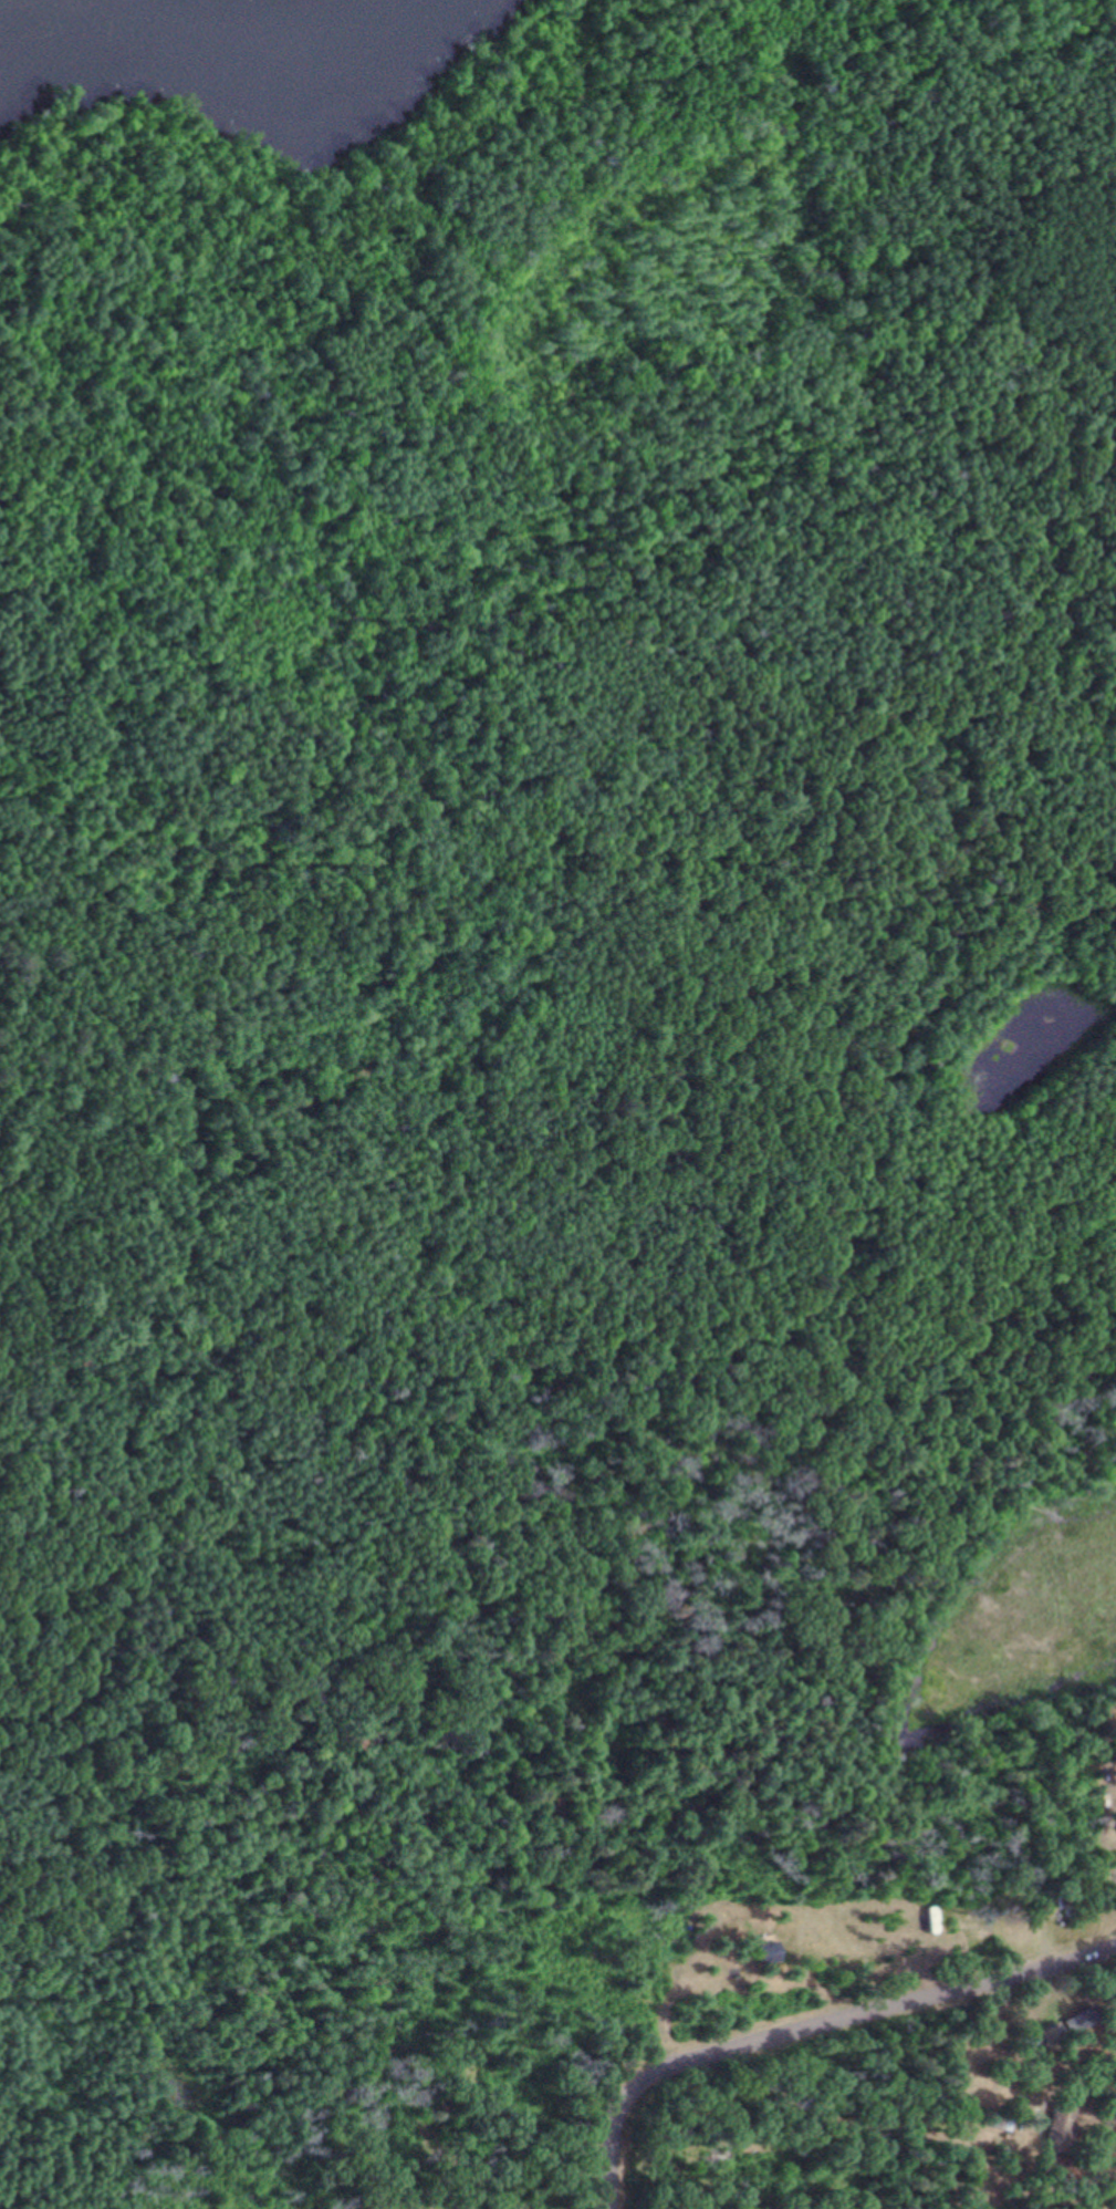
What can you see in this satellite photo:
river: (184, 44)
road: (810, 2027)

